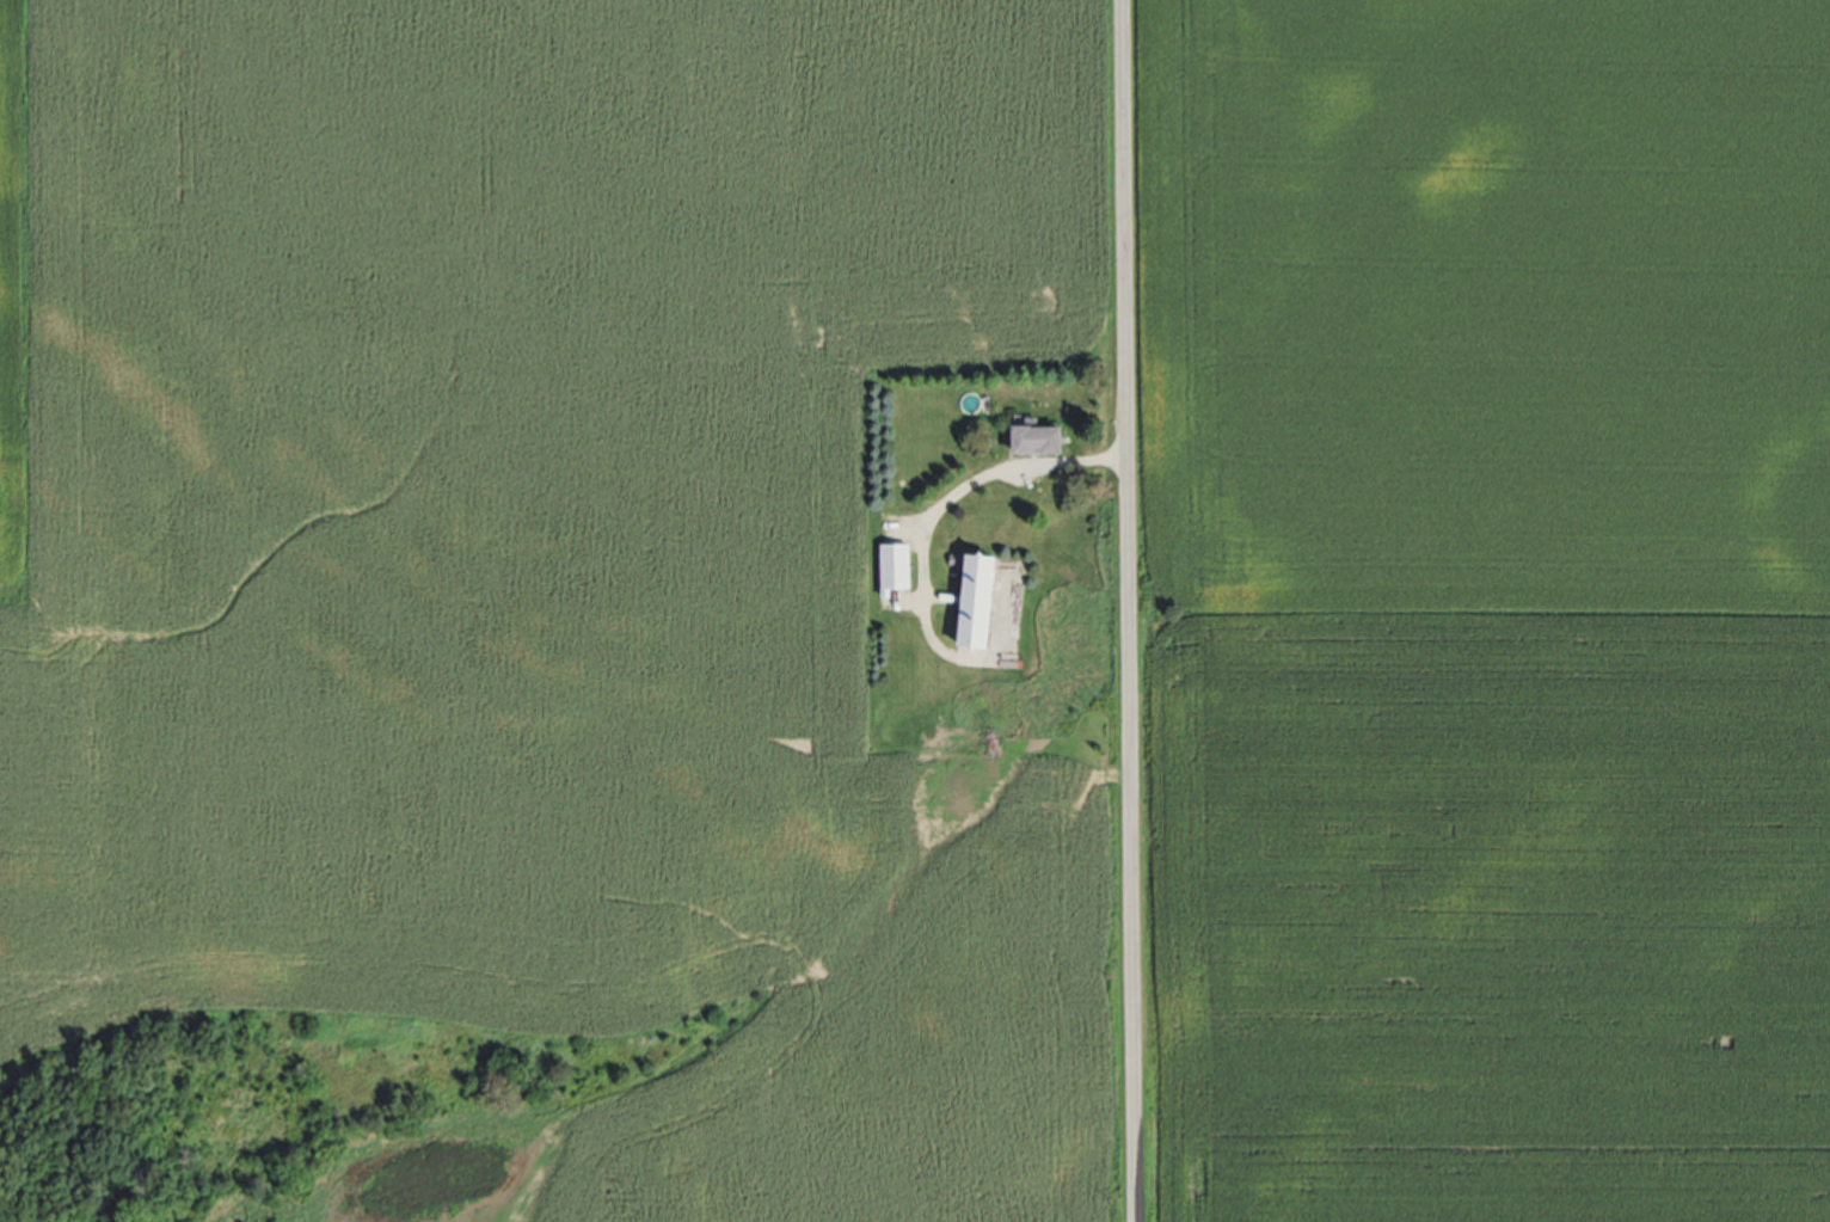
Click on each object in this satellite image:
building: (1045, 441)
road: (944, 504)
building: (898, 570)
building: (984, 600)
road: (1128, 610)

